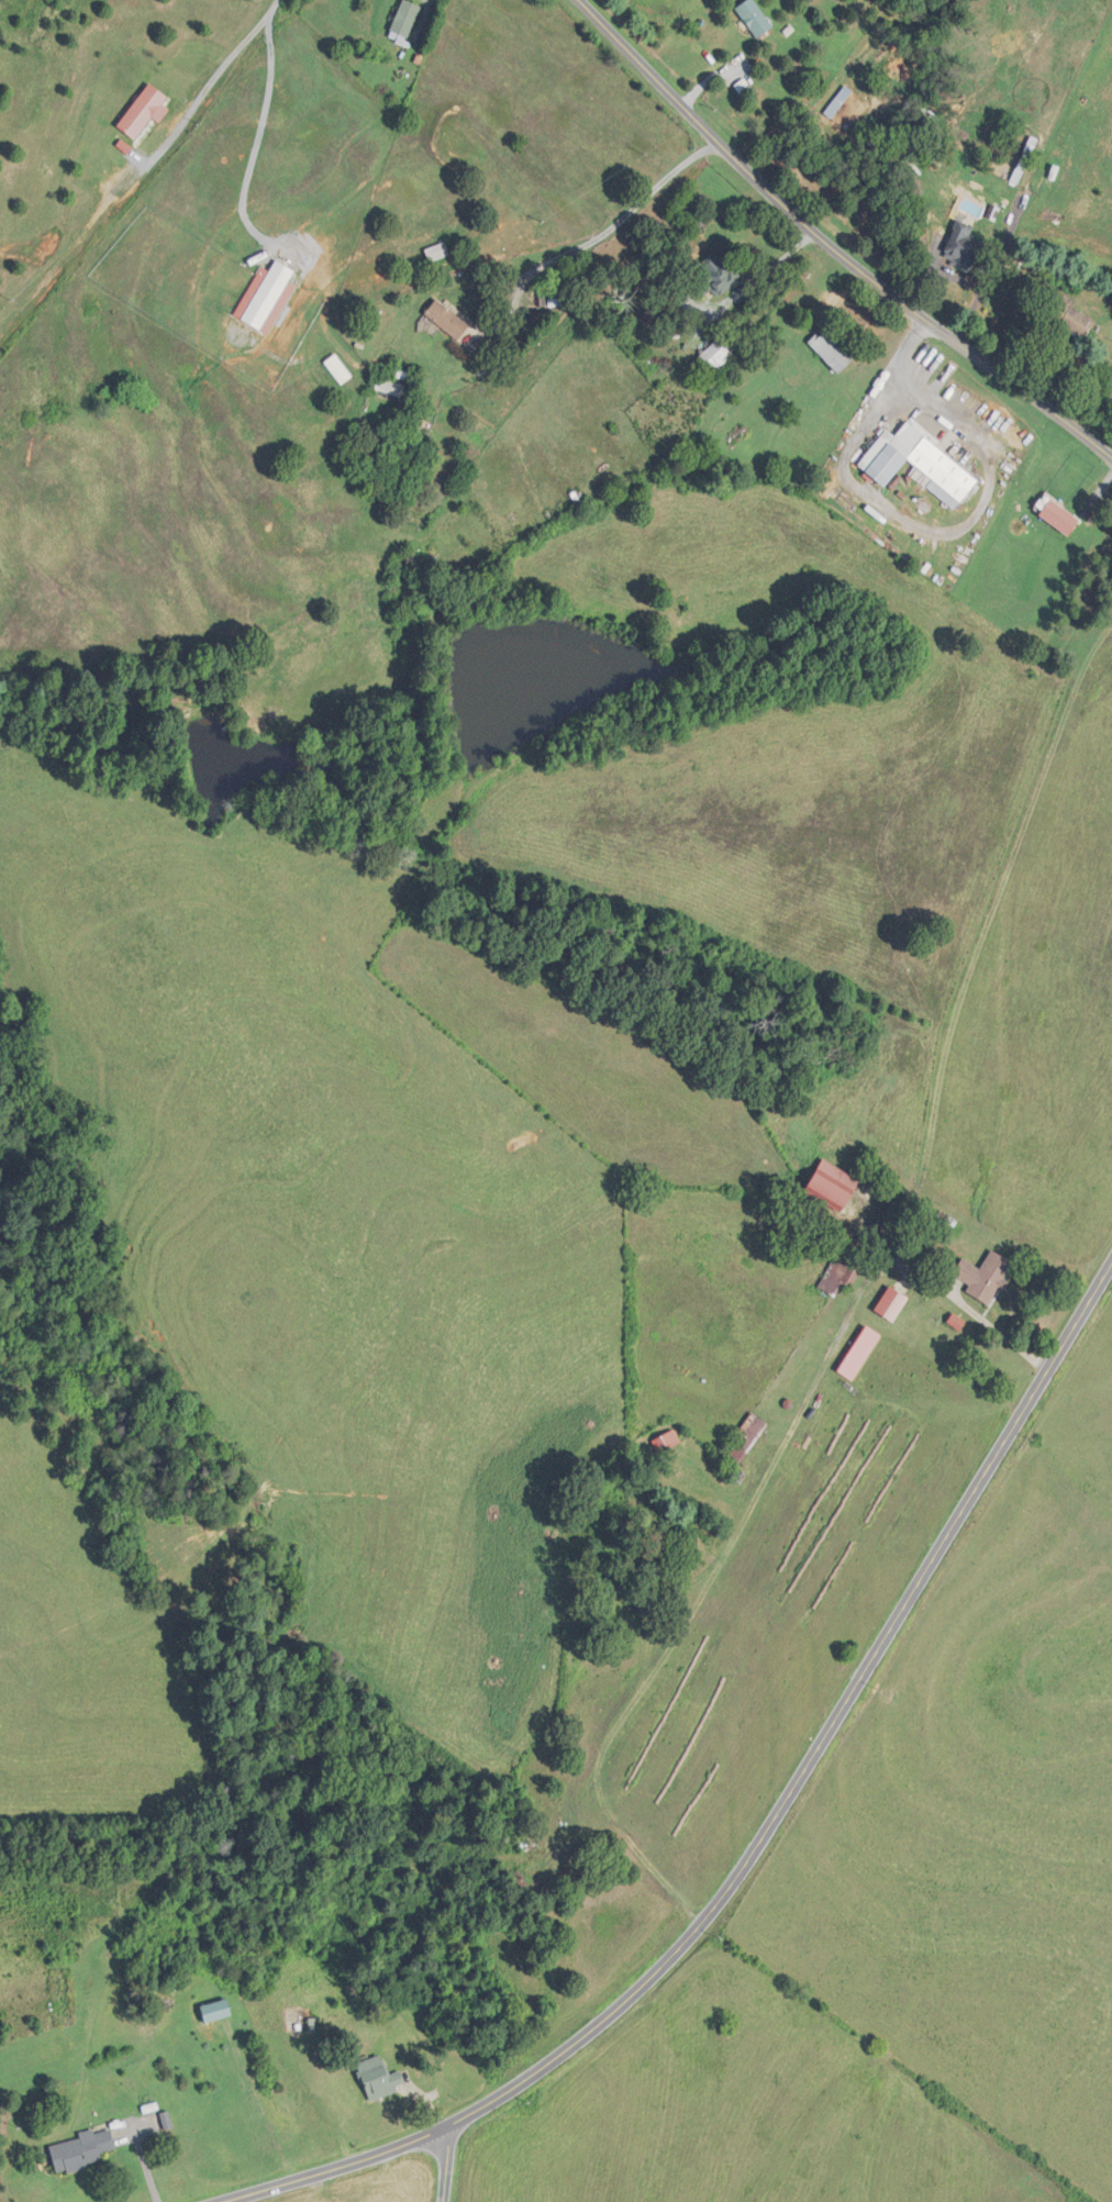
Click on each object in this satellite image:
road: (427, 5)
road: (273, 7)
building: (754, 18)
building: (405, 21)
road: (198, 100)
building: (142, 110)
road: (254, 152)
road: (609, 223)
road: (830, 247)
building: (963, 247)
building: (437, 252)
building: (714, 277)
building: (564, 298)
building: (1069, 315)
building: (447, 319)
building: (831, 351)
building: (714, 360)
building: (338, 369)
building: (390, 387)
road: (913, 394)
building: (918, 460)
road: (888, 509)
building: (1058, 516)
building: (833, 1186)
building: (890, 1217)
building: (948, 1224)
building: (842, 1271)
building: (985, 1276)
building: (891, 1304)
building: (744, 1439)
building: (667, 1442)
road: (746, 1526)
road: (771, 1826)
building: (213, 2000)
building: (296, 2024)
building: (379, 2078)
building: (81, 2150)
road: (447, 2165)

